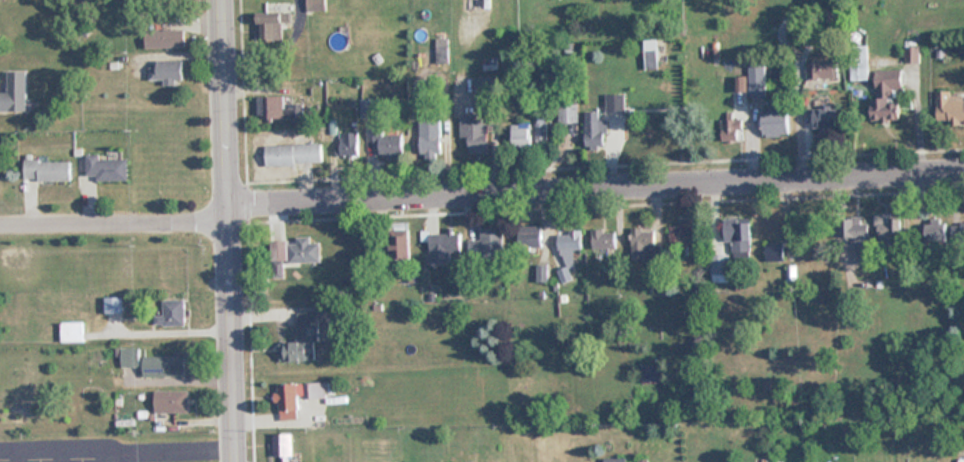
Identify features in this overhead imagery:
building: (317, 5)
building: (274, 25)
building: (165, 38)
building: (649, 49)
building: (442, 51)
building: (822, 68)
building: (167, 70)
building: (859, 71)
building: (757, 79)
building: (487, 85)
building: (15, 92)
building: (887, 95)
building: (615, 101)
building: (950, 107)
building: (279, 108)
building: (568, 113)
building: (826, 119)
building: (776, 122)
building: (732, 129)
building: (596, 130)
building: (475, 133)
building: (541, 135)
building: (522, 137)
building: (431, 138)
building: (388, 143)
building: (349, 144)
building: (293, 154)
building: (107, 168)
building: (48, 170)
road: (597, 189)
road: (115, 212)
road: (230, 230)
building: (938, 233)
building: (738, 234)
building: (681, 236)
building: (890, 236)
building: (530, 237)
building: (605, 239)
building: (570, 240)
building: (643, 244)
building: (399, 245)
building: (486, 245)
building: (862, 246)
building: (444, 247)
building: (303, 251)
building: (775, 252)
building: (720, 268)
building: (114, 305)
building: (173, 313)
building: (72, 332)
building: (303, 340)
building: (154, 363)
building: (315, 391)
building: (171, 402)
building: (287, 402)
road: (160, 446)
building: (285, 448)
building: (615, 460)

